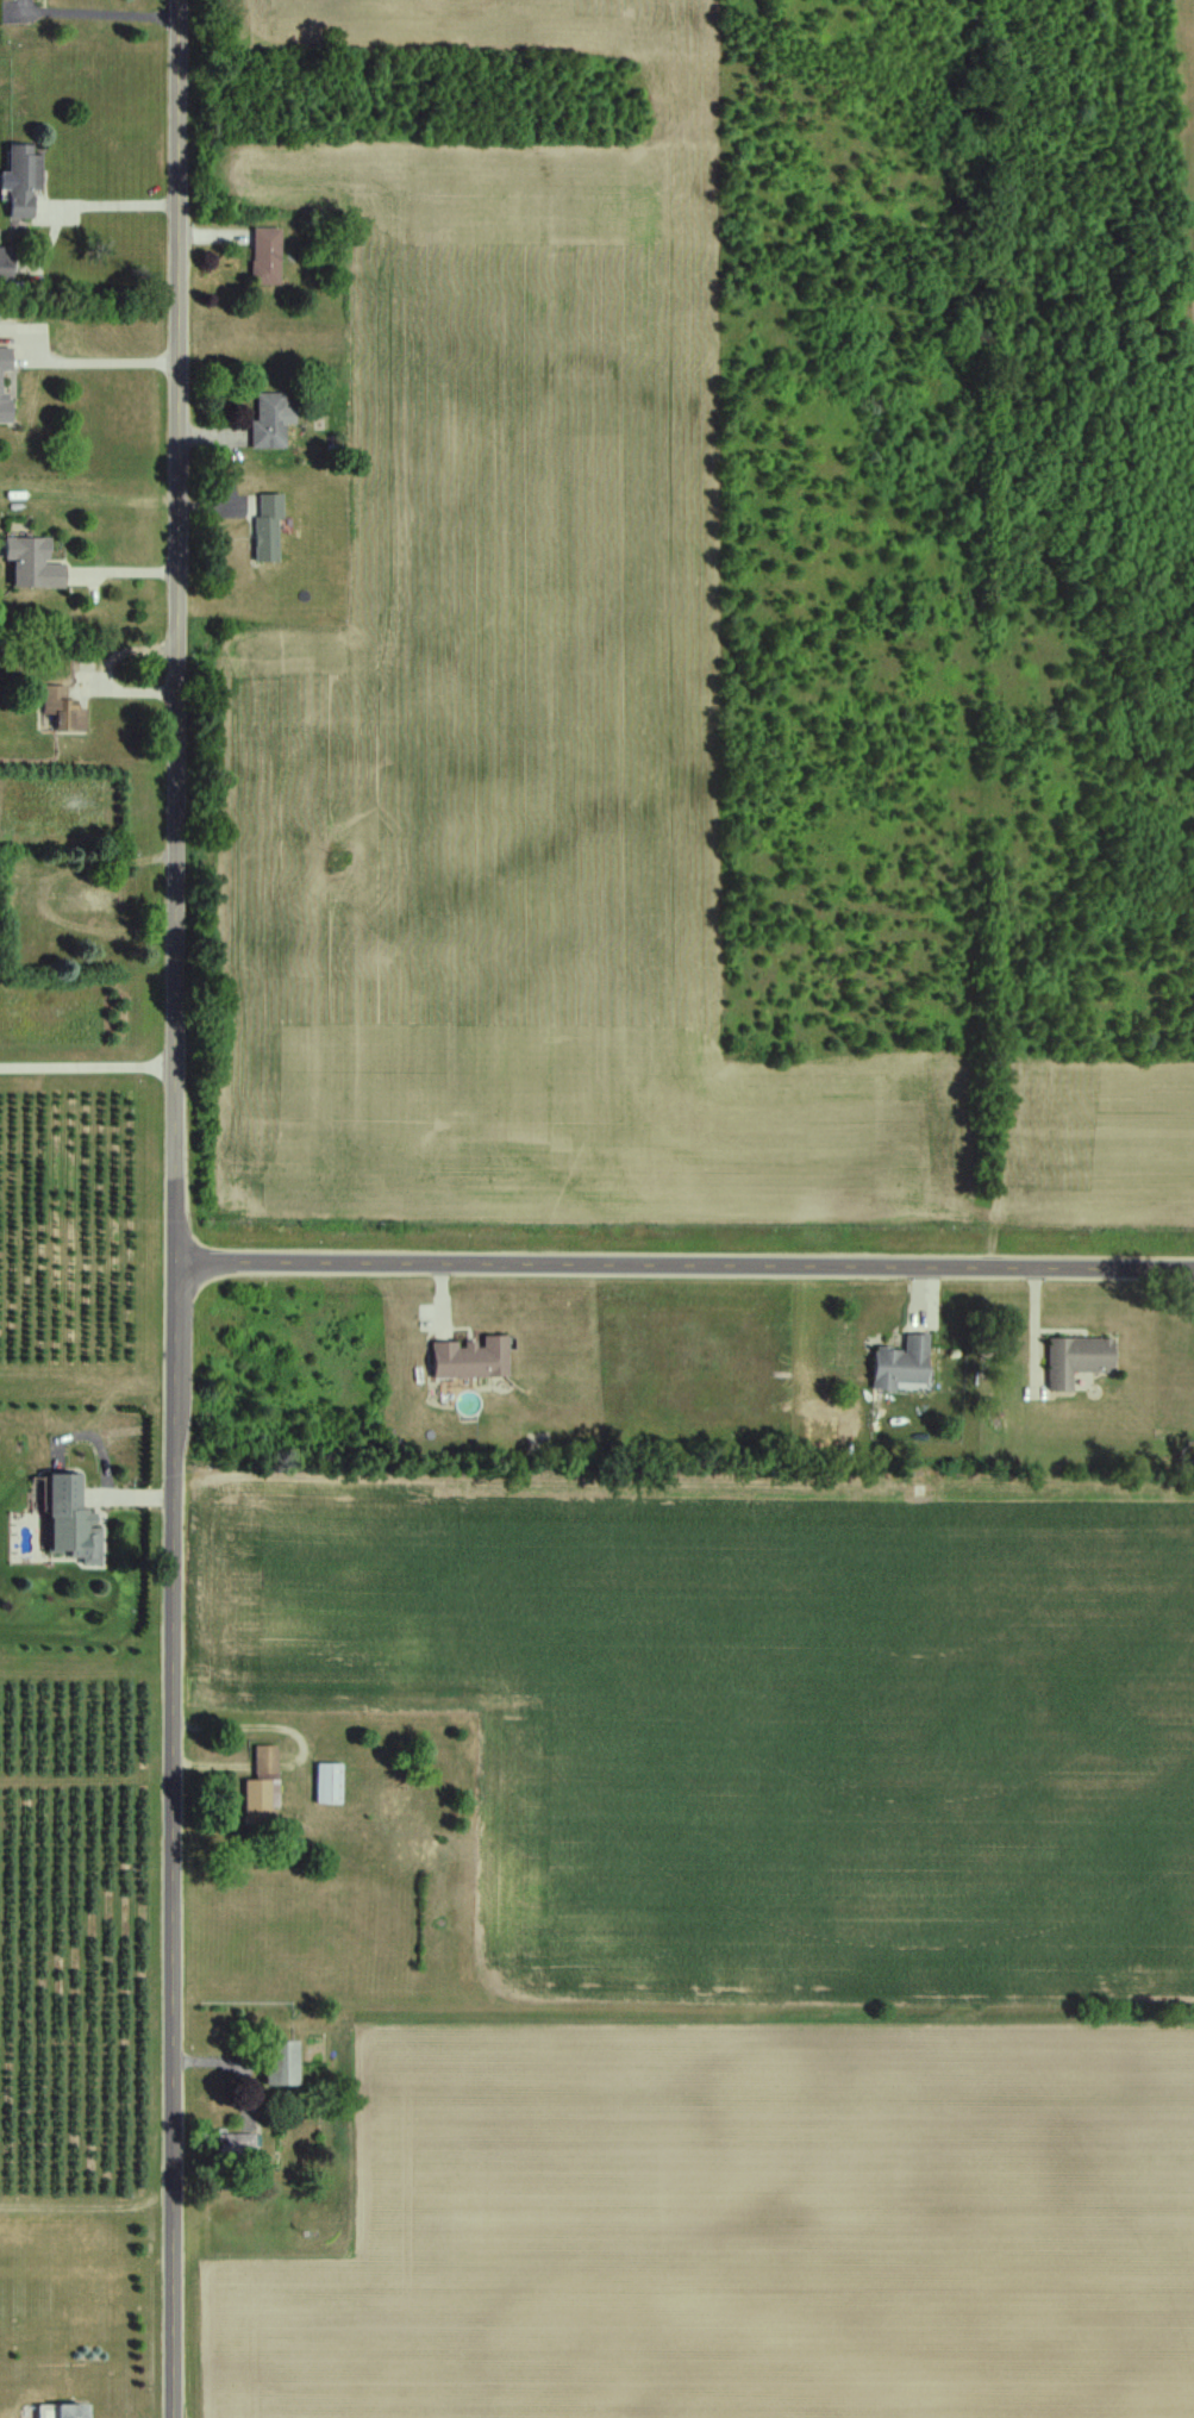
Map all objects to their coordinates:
road: (101, 19)
building: (24, 180)
road: (112, 205)
building: (267, 256)
building: (6, 264)
road: (111, 367)
building: (1, 382)
building: (270, 421)
building: (267, 529)
building: (35, 564)
road: (119, 575)
road: (107, 673)
building: (60, 713)
building: (94, 901)
road: (88, 1070)
road: (177, 1208)
road: (686, 1267)
building: (473, 1361)
building: (1079, 1361)
building: (904, 1364)
building: (69, 1519)
building: (329, 1785)
building: (262, 1791)
building: (374, 1802)
building: (419, 1850)
building: (270, 2061)
building: (229, 2144)
building: (61, 2411)

